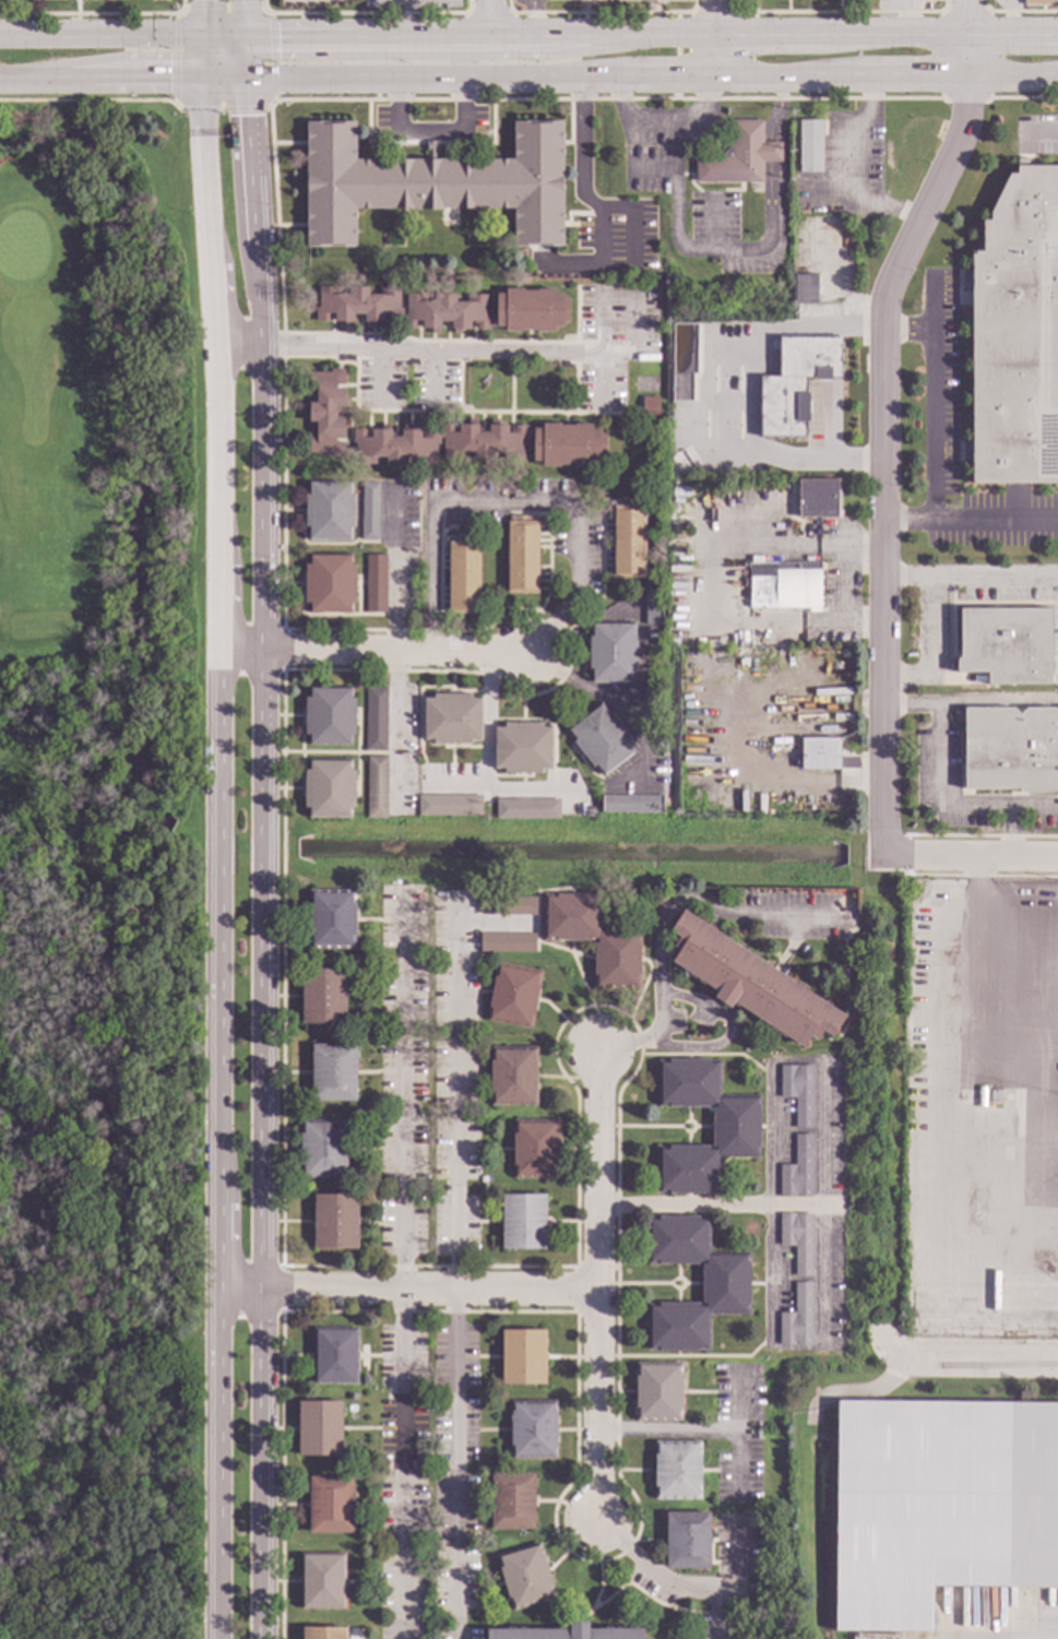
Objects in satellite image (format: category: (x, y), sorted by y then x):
traffic signals: (203, 0)
building: (1038, 2)
power substation: (312, 3)
road: (715, 17)
road: (487, 19)
road: (966, 19)
road: (203, 20)
road: (242, 20)
road: (652, 36)
road: (768, 36)
road: (892, 37)
road: (1012, 37)
road: (100, 38)
traffic signals: (277, 38)
road: (415, 38)
traffic signals: (203, 39)
road: (224, 39)
traffic signals: (245, 39)
road: (716, 57)
road: (965, 58)
road: (245, 60)
road: (202, 61)
road: (786, 78)
road: (911, 78)
road: (1011, 78)
road: (668, 79)
road: (432, 81)
road: (224, 82)
traffic signals: (246, 82)
road: (37, 83)
road: (138, 83)
traffic signals: (168, 83)
traffic signals: (202, 83)
road: (777, 109)
traffic signals: (247, 116)
road: (662, 119)
road: (1049, 129)
road: (430, 132)
building: (429, 146)
building: (809, 146)
road: (769, 153)
building: (735, 157)
road: (249, 164)
road: (207, 175)
building: (433, 183)
road: (769, 200)
road: (622, 205)
road: (676, 230)
building: (805, 289)
road: (257, 295)
road: (215, 306)
building: (444, 310)
building: (1015, 333)
road: (429, 347)
building: (810, 363)
building: (685, 381)
road: (750, 394)
building: (650, 405)
road: (937, 424)
building: (442, 436)
road: (888, 456)
building: (487, 486)
building: (680, 492)
building: (819, 498)
road: (510, 503)
building: (329, 511)
building: (369, 512)
road: (997, 518)
building: (628, 538)
road: (853, 548)
building: (523, 555)
road: (392, 569)
road: (710, 573)
building: (462, 574)
building: (330, 583)
building: (376, 584)
road: (844, 585)
building: (784, 586)
building: (653, 609)
road: (844, 622)
road: (931, 625)
road: (581, 628)
building: (671, 642)
building: (1006, 644)
building: (611, 652)
road: (377, 653)
building: (653, 697)
road: (971, 703)
road: (485, 709)
road: (621, 711)
building: (329, 716)
building: (376, 718)
building: (451, 718)
road: (394, 733)
building: (602, 739)
building: (522, 748)
building: (1011, 749)
building: (820, 753)
building: (377, 787)
road: (498, 787)
building: (329, 789)
building: (631, 804)
road: (949, 805)
building: (449, 806)
building: (527, 809)
building: (590, 812)
road: (1011, 829)
road: (971, 853)
park: (99, 871)
road: (976, 896)
building: (508, 905)
building: (332, 919)
road: (663, 921)
building: (593, 939)
road: (1017, 940)
building: (507, 942)
building: (750, 983)
road: (217, 990)
road: (260, 990)
building: (323, 996)
building: (513, 996)
road: (727, 1035)
road: (796, 1060)
building: (333, 1073)
building: (512, 1076)
building: (798, 1092)
building: (995, 1097)
building: (735, 1127)
road: (948, 1137)
building: (535, 1149)
building: (323, 1150)
building: (797, 1171)
building: (485, 1180)
building: (486, 1199)
road: (717, 1202)
building: (335, 1222)
building: (523, 1222)
building: (797, 1240)
road: (402, 1267)
road: (453, 1267)
building: (725, 1284)
road: (596, 1285)
road: (406, 1290)
building: (797, 1318)
road: (889, 1347)
road: (796, 1349)
building: (334, 1356)
building: (523, 1357)
road: (984, 1361)
building: (366, 1380)
building: (658, 1391)
building: (438, 1392)
building: (352, 1395)
building: (320, 1428)
building: (533, 1429)
road: (668, 1435)
road: (739, 1436)
building: (437, 1471)
building: (677, 1471)
building: (377, 1472)
building: (512, 1501)
building: (330, 1505)
building: (940, 1506)
building: (687, 1541)
building: (439, 1545)
building: (525, 1577)
road: (671, 1577)
building: (322, 1581)
building: (418, 1618)
building: (564, 1632)
building: (323, 1634)

